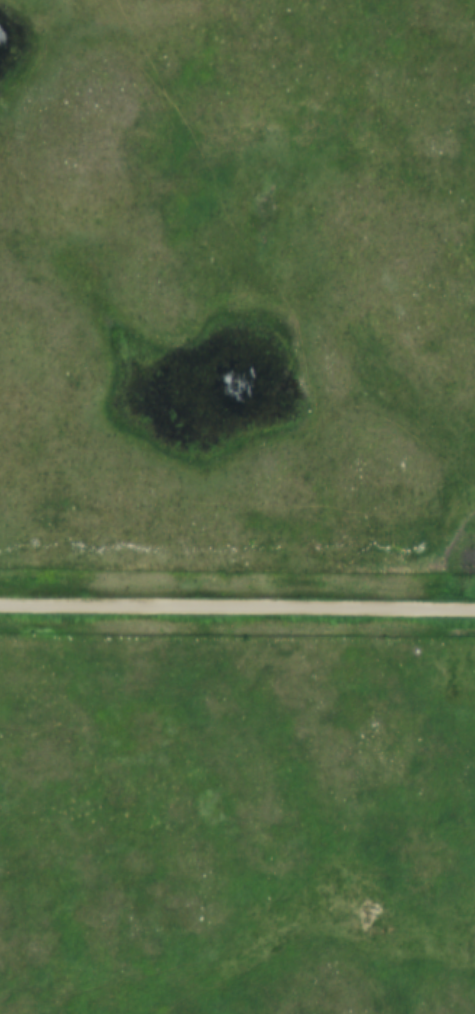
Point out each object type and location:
road: (237, 607)

